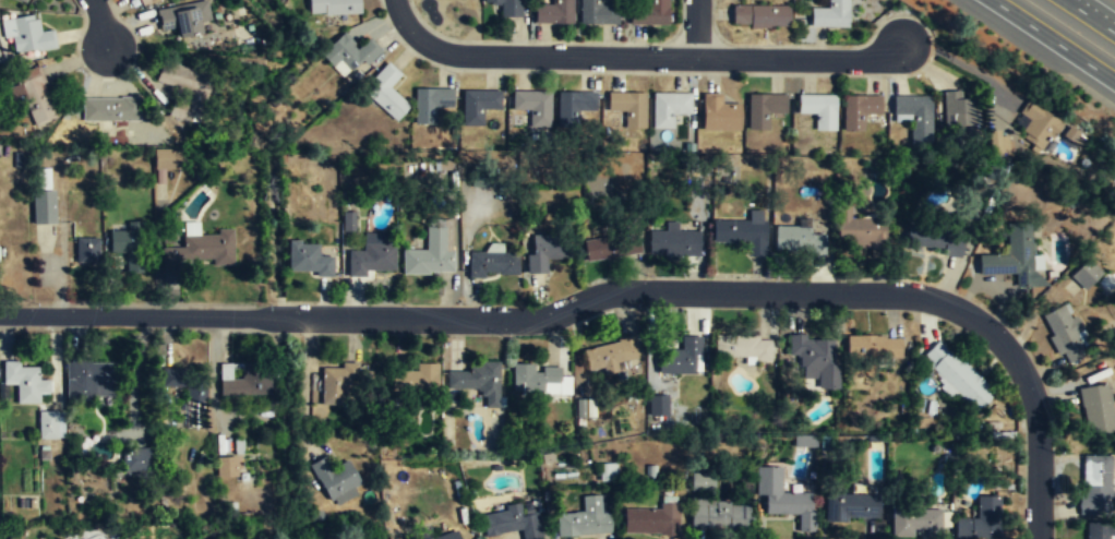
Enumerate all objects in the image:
building: (23, 0)
building: (144, 2)
building: (332, 7)
building: (507, 8)
building: (554, 13)
building: (597, 13)
building: (649, 13)
road: (1101, 14)
building: (762, 15)
building: (829, 15)
road: (1089, 15)
building: (187, 17)
road: (101, 23)
road: (696, 28)
building: (27, 35)
road: (1053, 40)
building: (347, 50)
road: (637, 56)
building: (183, 89)
building: (385, 91)
building: (35, 96)
building: (429, 101)
building: (476, 104)
building: (532, 105)
building: (571, 105)
building: (627, 106)
building: (668, 106)
building: (763, 107)
building: (818, 108)
building: (858, 109)
building: (110, 110)
building: (718, 111)
building: (960, 113)
building: (914, 115)
building: (1036, 123)
building: (1070, 134)
building: (166, 163)
building: (44, 206)
building: (742, 233)
building: (861, 233)
building: (125, 239)
building: (798, 240)
building: (934, 241)
building: (673, 243)
building: (203, 247)
building: (86, 249)
building: (611, 249)
building: (432, 251)
building: (543, 253)
building: (1012, 255)
building: (372, 256)
building: (308, 259)
building: (493, 265)
building: (1084, 273)
street lamp: (267, 302)
street lamp: (98, 303)
road: (530, 318)
street lamp: (1009, 325)
building: (1063, 331)
street lamp: (506, 336)
building: (741, 345)
building: (871, 346)
building: (610, 354)
building: (678, 356)
building: (814, 359)
building: (531, 375)
building: (413, 376)
building: (477, 379)
building: (961, 379)
building: (88, 380)
building: (244, 381)
building: (334, 381)
building: (25, 383)
road: (304, 385)
building: (183, 387)
building: (657, 405)
building: (1096, 408)
building: (47, 426)
road: (1036, 456)
building: (137, 459)
building: (227, 465)
building: (607, 470)
building: (702, 480)
building: (336, 481)
building: (1096, 481)
building: (782, 496)
building: (848, 505)
building: (715, 512)
building: (583, 518)
building: (650, 518)
building: (980, 519)
building: (914, 520)
building: (509, 522)
building: (1096, 531)
building: (446, 536)
building: (364, 537)

